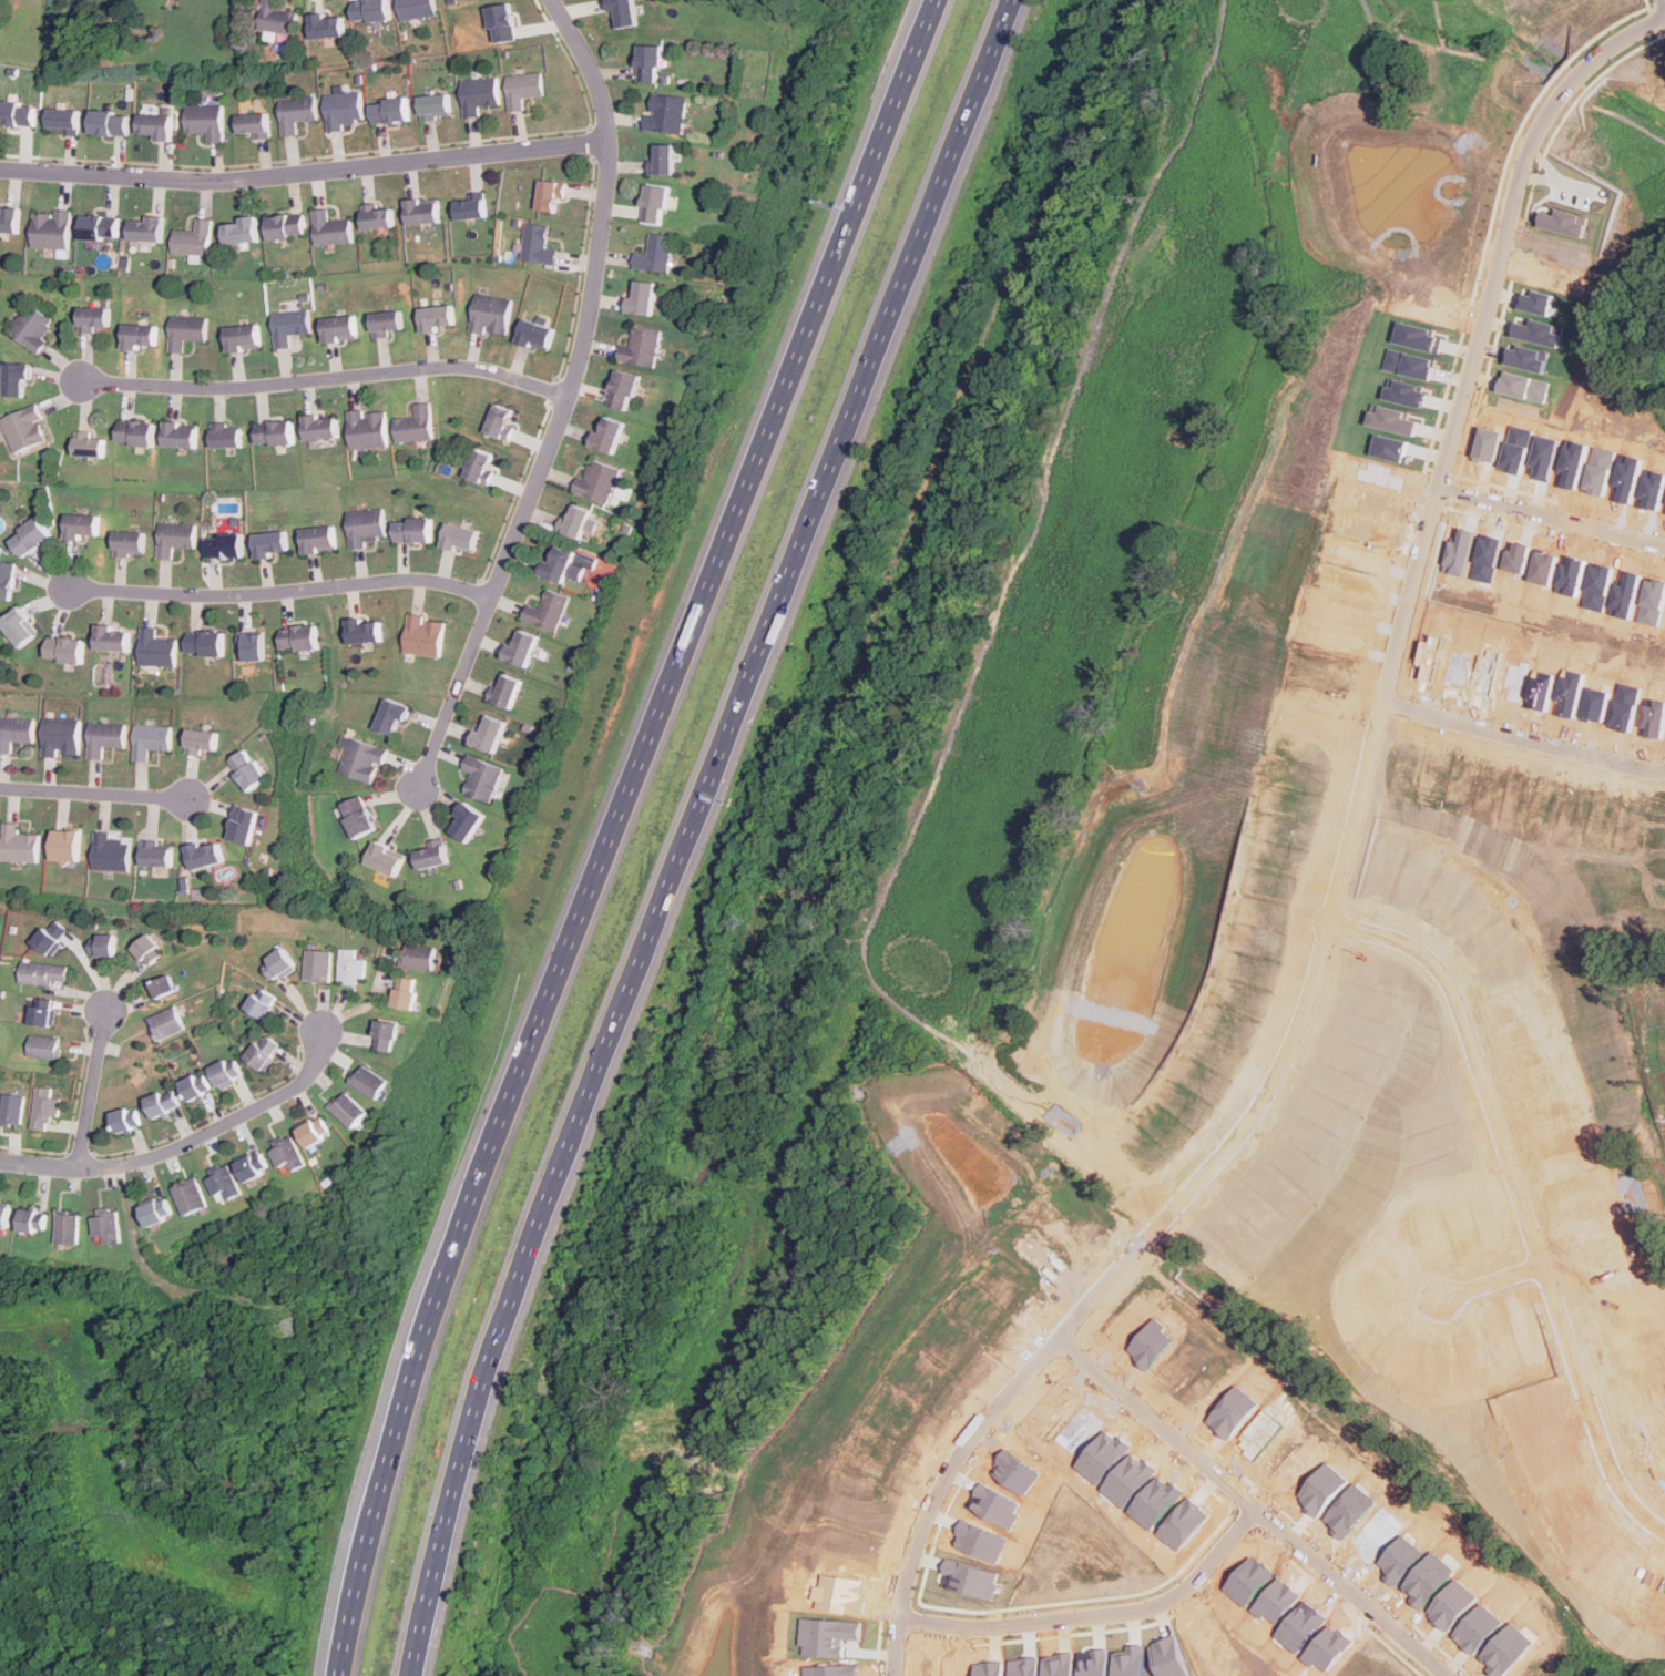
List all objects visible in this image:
road: (1656, 4)
building: (416, 8)
building: (370, 10)
building: (622, 13)
building: (277, 18)
road: (1655, 22)
building: (501, 23)
building: (327, 27)
road: (1663, 35)
building: (648, 62)
building: (524, 88)
building: (479, 93)
building: (436, 105)
building: (343, 109)
building: (389, 110)
road: (1571, 110)
building: (18, 112)
building: (297, 112)
building: (666, 112)
building: (62, 119)
building: (206, 120)
building: (109, 121)
building: (253, 123)
building: (155, 124)
road: (1526, 129)
building: (663, 159)
road: (304, 171)
building: (550, 195)
building: (654, 203)
building: (470, 206)
building: (422, 209)
building: (377, 214)
building: (9, 219)
building: (286, 225)
building: (99, 226)
building: (146, 227)
building: (331, 227)
building: (51, 228)
building: (242, 228)
building: (194, 238)
building: (538, 244)
building: (655, 254)
building: (641, 296)
building: (491, 314)
building: (436, 316)
building: (94, 317)
building: (386, 320)
building: (289, 325)
building: (32, 326)
building: (339, 327)
building: (186, 330)
building: (535, 334)
building: (140, 335)
building: (243, 336)
building: (642, 346)
road: (325, 375)
building: (17, 378)
road: (1483, 379)
building: (623, 388)
road: (569, 398)
building: (500, 421)
building: (416, 423)
building: (321, 426)
building: (24, 428)
building: (368, 428)
building: (135, 431)
building: (274, 431)
building: (606, 433)
building: (180, 435)
building: (226, 435)
building: (89, 443)
building: (481, 466)
road: (1443, 471)
building: (599, 480)
road: (1562, 501)
road: (1452, 509)
road: (1554, 514)
building: (580, 521)
road: (1413, 524)
building: (82, 525)
building: (366, 525)
building: (412, 529)
road: (1559, 535)
building: (30, 536)
building: (176, 536)
building: (460, 536)
building: (318, 539)
building: (129, 542)
building: (268, 542)
building: (224, 544)
building: (565, 564)
building: (7, 579)
road: (274, 589)
road: (1430, 601)
building: (548, 610)
building: (18, 626)
building: (364, 630)
building: (425, 635)
building: (299, 636)
building: (111, 637)
building: (206, 642)
building: (521, 646)
building: (156, 647)
building: (65, 648)
building: (253, 648)
road: (1389, 685)
building: (507, 689)
road: (1402, 707)
building: (391, 715)
road: (1382, 719)
road: (1535, 725)
building: (16, 730)
building: (489, 733)
building: (62, 736)
building: (105, 736)
building: (151, 739)
building: (202, 739)
road: (1528, 739)
road: (1531, 757)
building: (362, 759)
building: (247, 768)
road: (1386, 769)
building: (481, 777)
road: (95, 795)
building: (358, 816)
building: (466, 821)
building: (242, 824)
road: (612, 829)
road: (688, 830)
road: (1332, 842)
building: (20, 844)
building: (65, 845)
building: (110, 851)
building: (157, 854)
building: (205, 854)
building: (432, 854)
building: (385, 858)
road: (1342, 871)
road: (1338, 933)
road: (1320, 936)
building: (49, 938)
building: (103, 943)
building: (147, 949)
building: (419, 955)
road: (1392, 960)
building: (277, 962)
building: (318, 965)
building: (351, 967)
building: (42, 973)
building: (163, 987)
building: (405, 992)
building: (261, 1002)
building: (43, 1011)
building: (166, 1023)
building: (385, 1035)
road: (1303, 1042)
building: (44, 1046)
building: (263, 1051)
building: (226, 1072)
building: (368, 1081)
road: (94, 1085)
building: (195, 1086)
building: (162, 1103)
building: (44, 1107)
building: (348, 1108)
building: (12, 1110)
building: (125, 1120)
building: (313, 1132)
road: (194, 1143)
building: (286, 1152)
building: (252, 1166)
building: (224, 1182)
building: (191, 1196)
road: (1524, 1198)
building: (156, 1212)
building: (4, 1216)
building: (32, 1220)
building: (106, 1226)
building: (68, 1227)
road: (1498, 1281)
road: (1259, 1504)
road: (1103, 1614)

